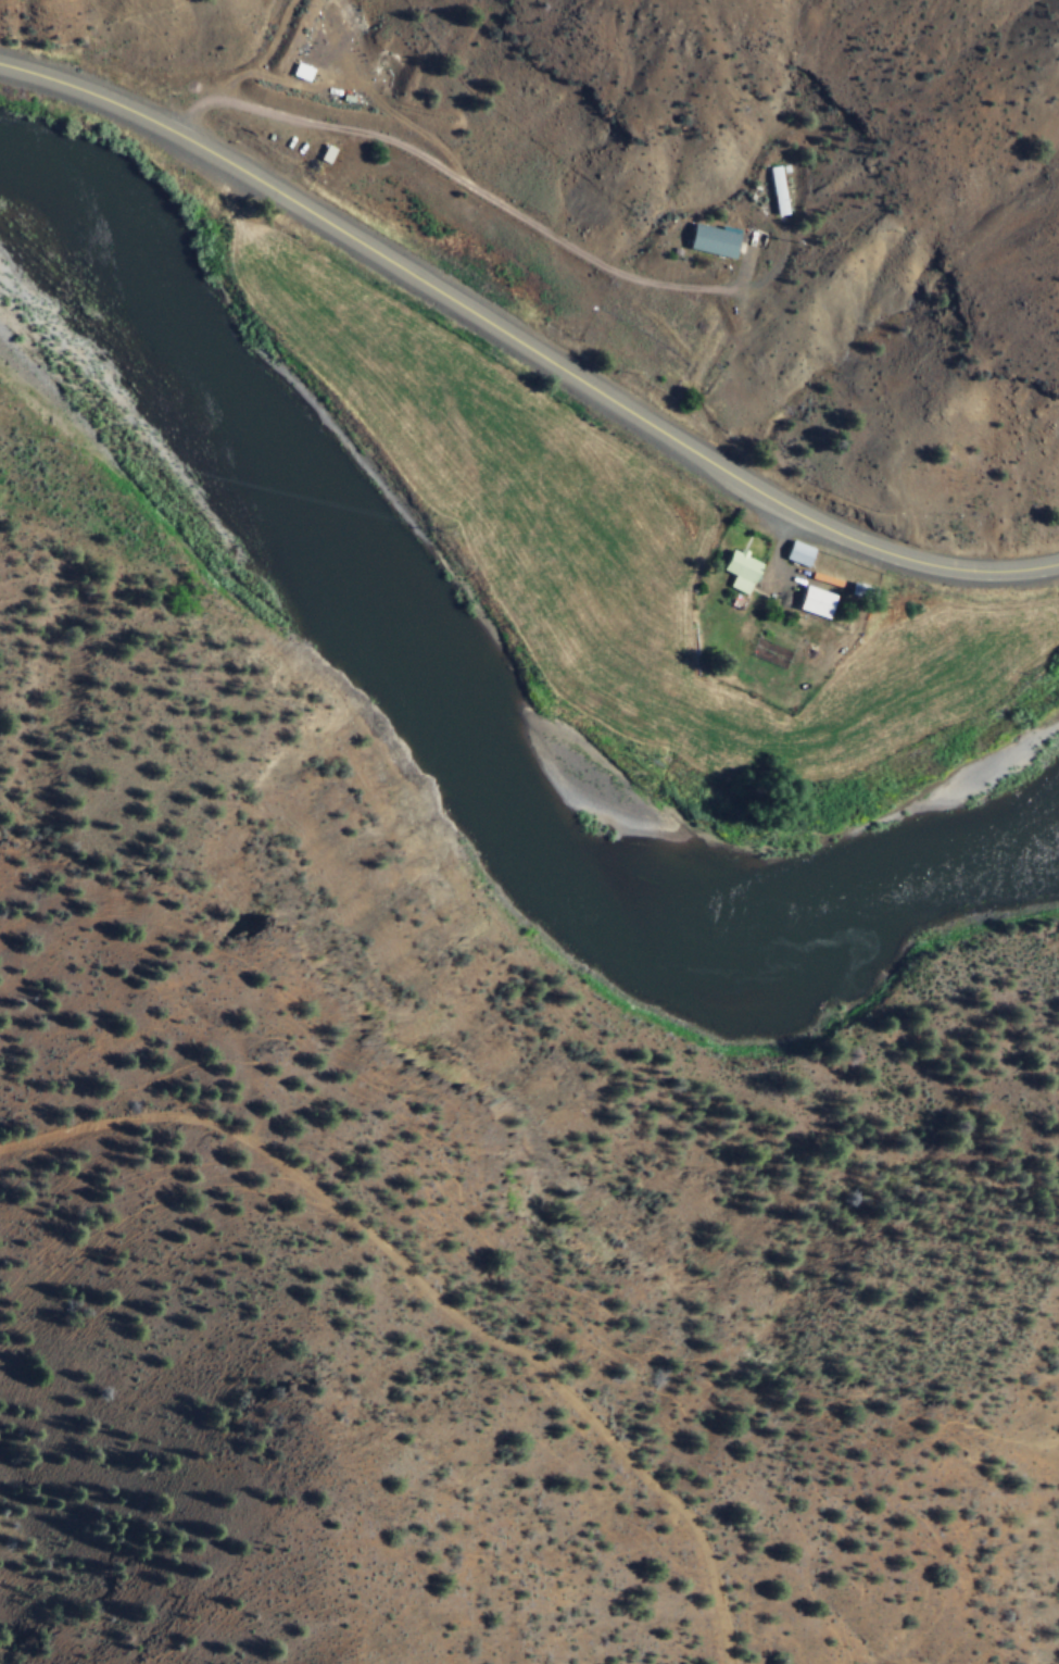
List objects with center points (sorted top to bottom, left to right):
building: (335, 155)
building: (783, 191)
building: (720, 241)
road: (524, 345)
building: (806, 554)
building: (748, 573)
building: (869, 591)
building: (824, 602)
river: (453, 748)

